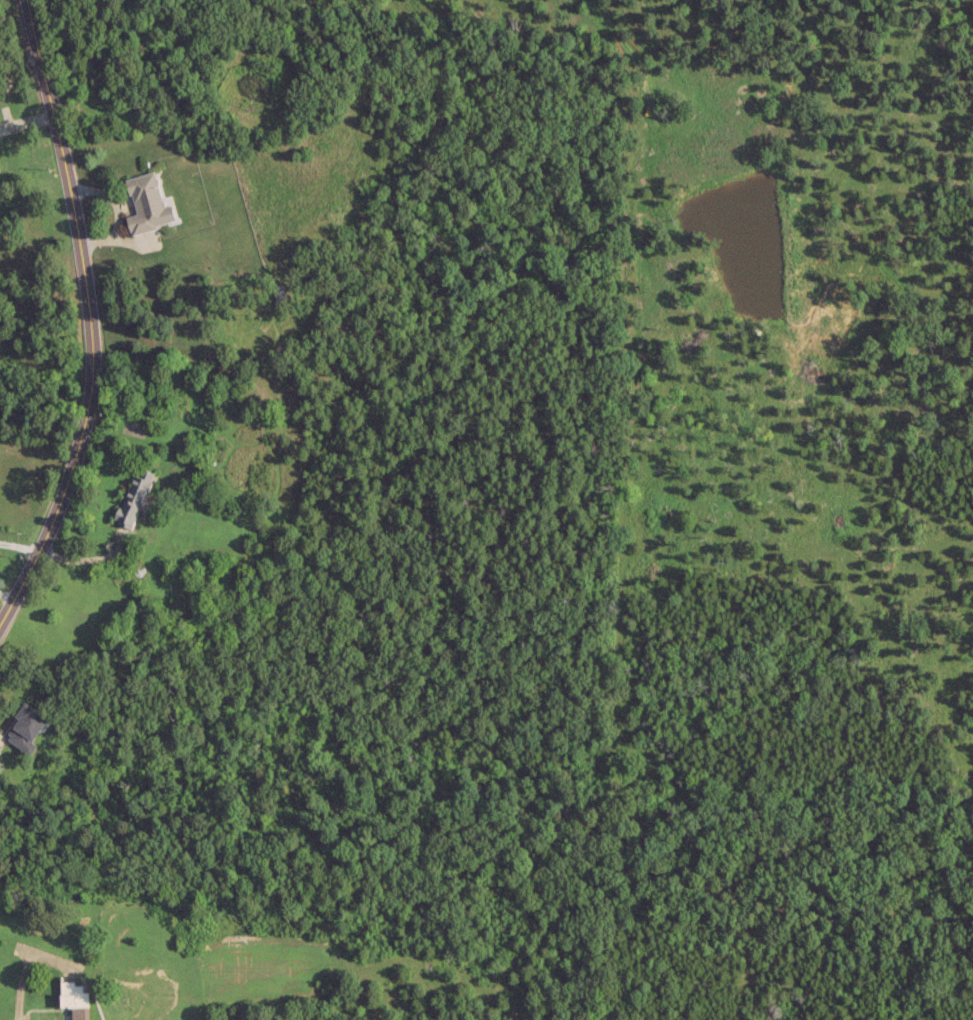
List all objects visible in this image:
building: (145, 202)
road: (88, 315)
building: (132, 496)
road: (17, 546)
road: (5, 596)
building: (24, 727)
road: (22, 971)
building: (72, 997)

